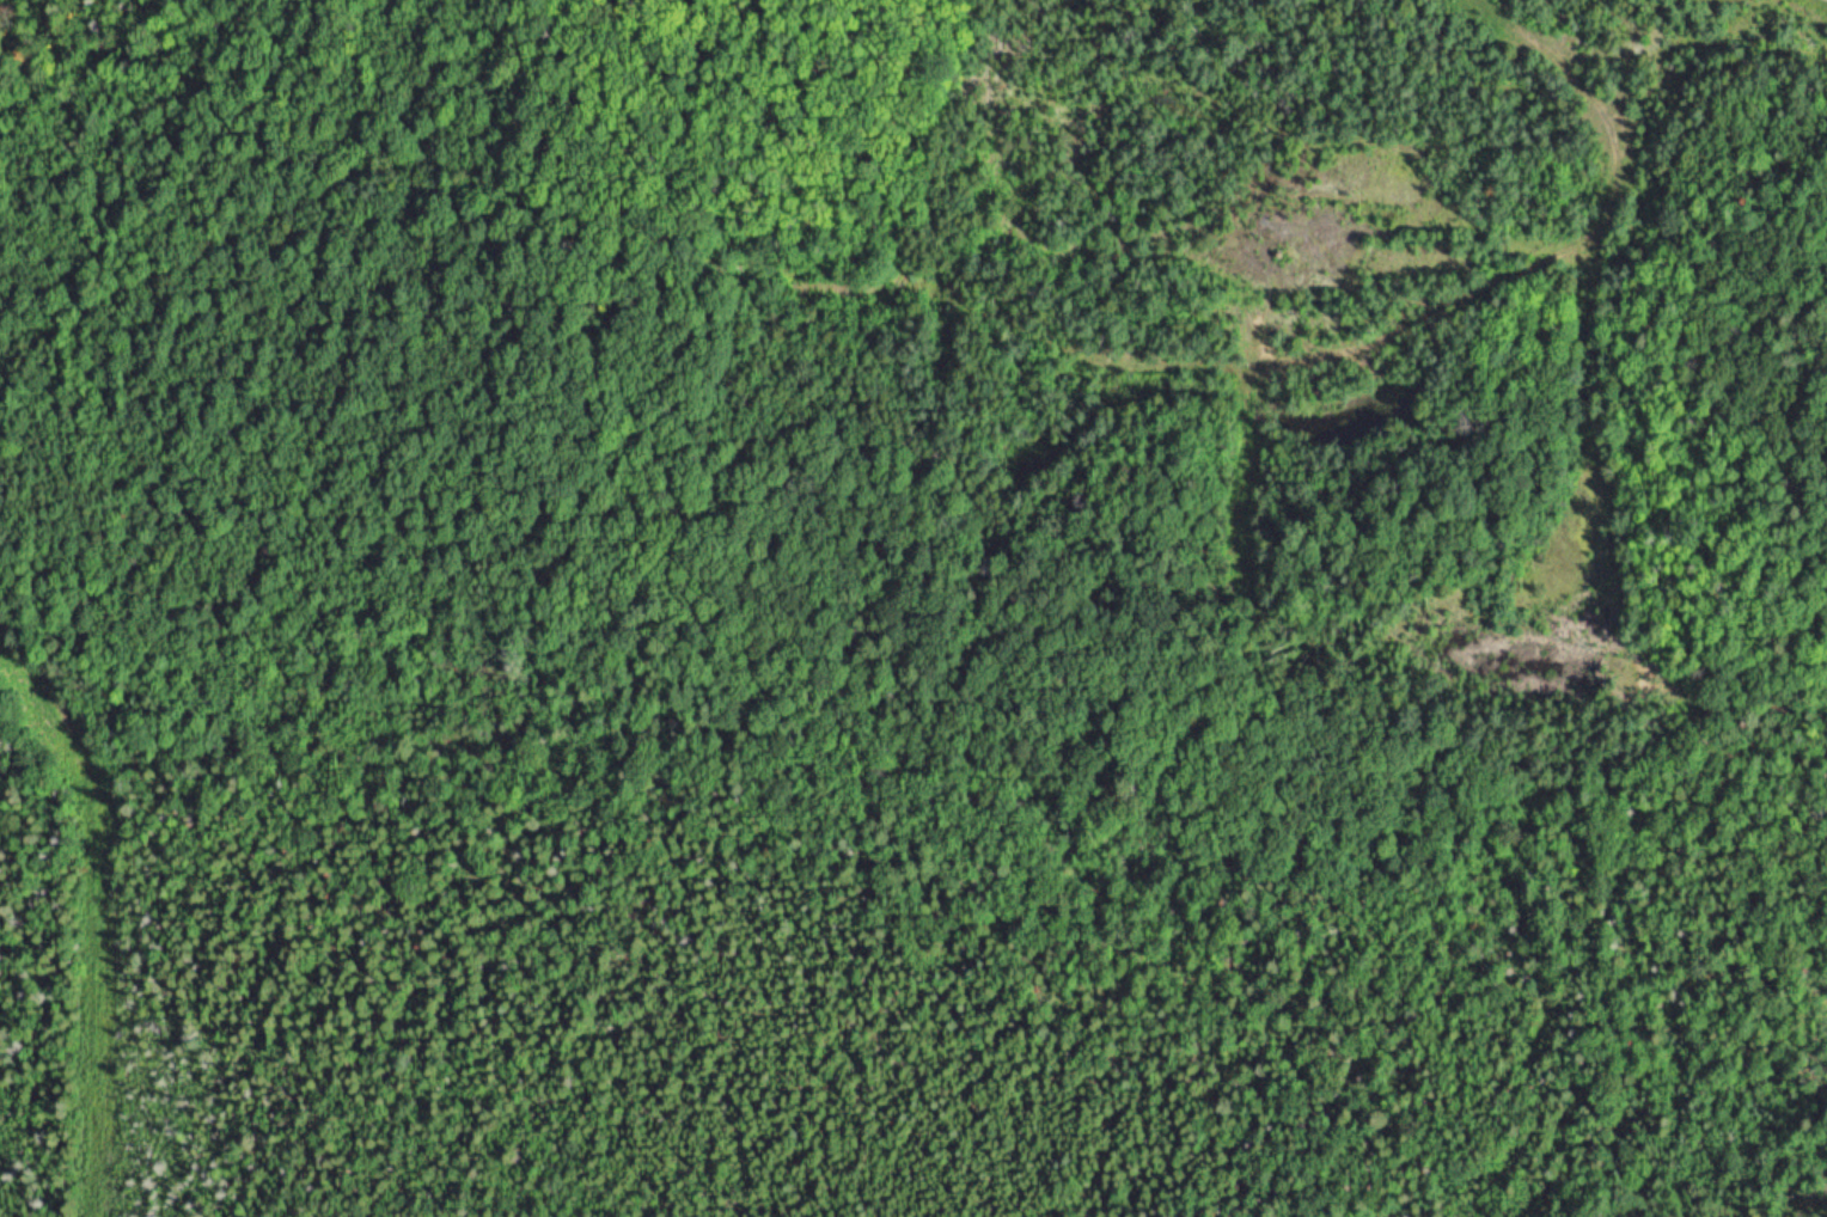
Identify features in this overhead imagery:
road: (921, 306)

